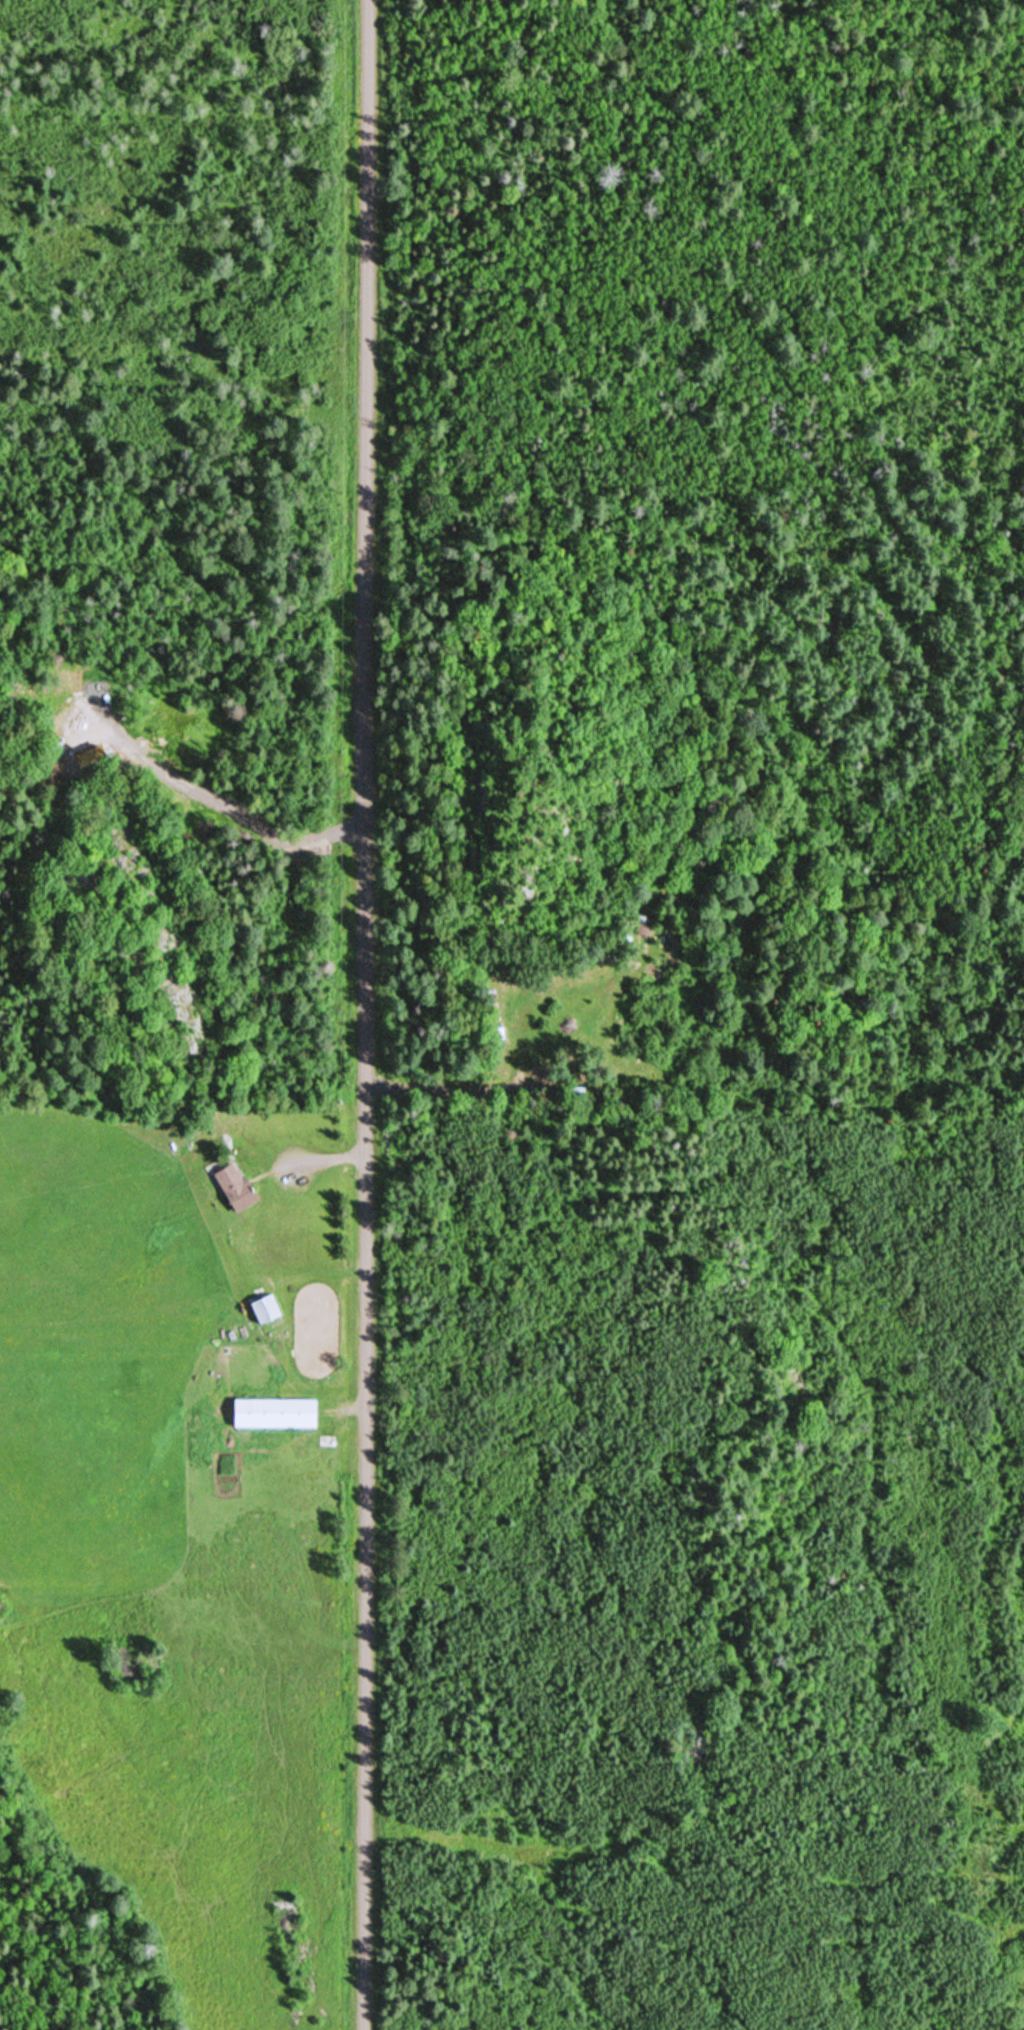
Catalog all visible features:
road: (371, 1015)
building: (242, 1190)
building: (276, 1320)
building: (280, 1413)

